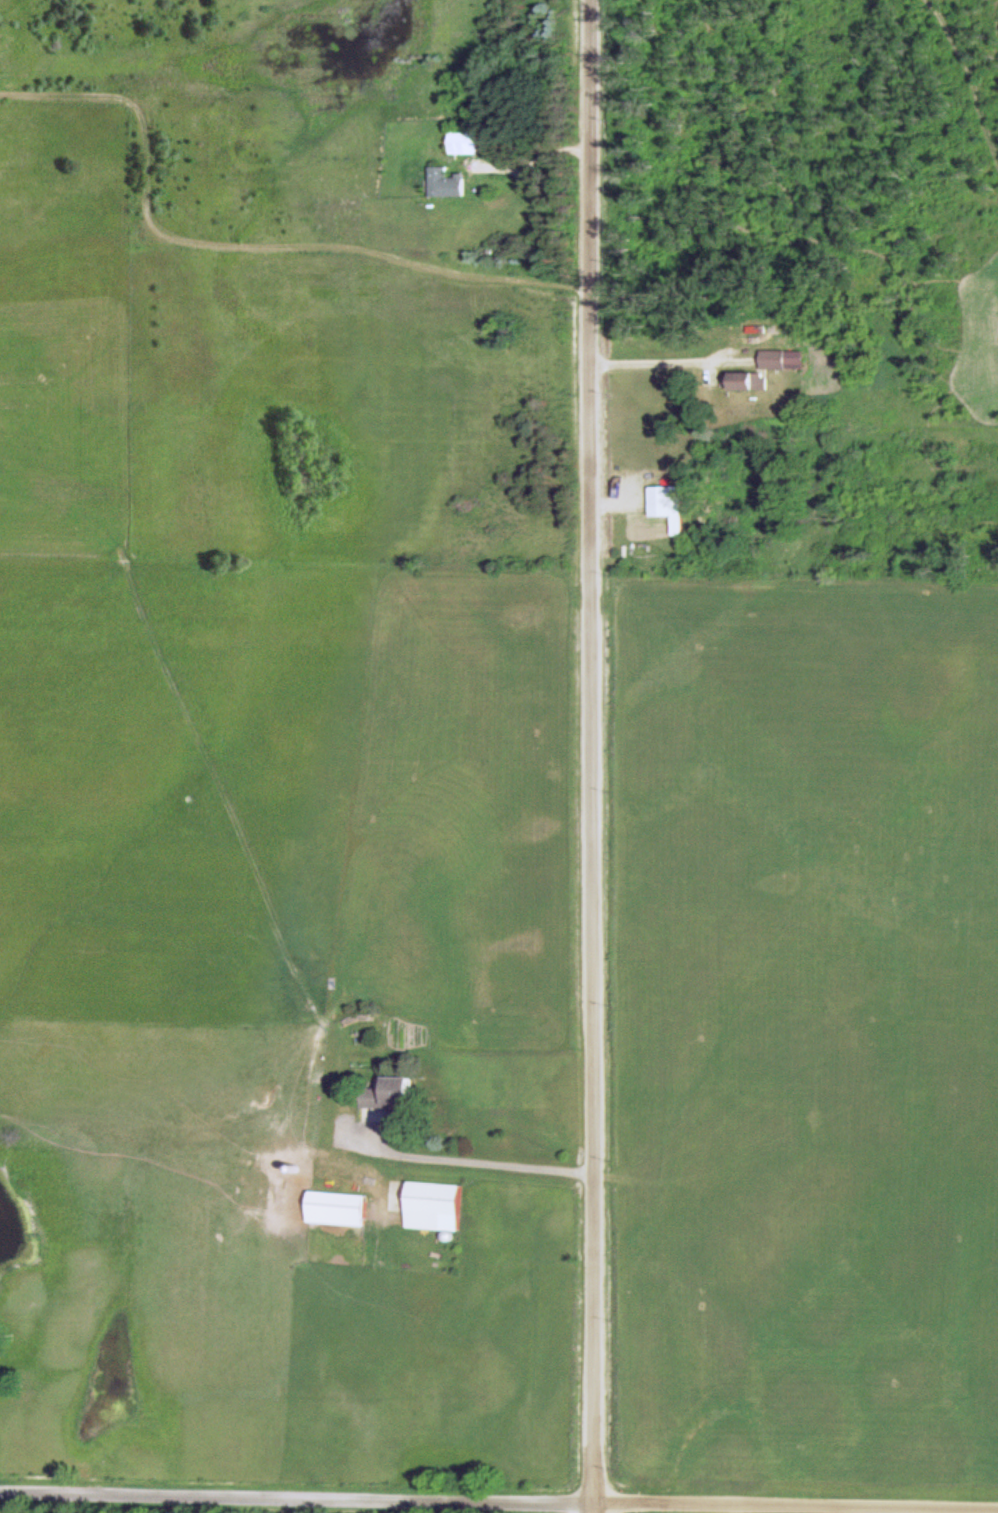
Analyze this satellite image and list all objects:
building: (464, 142)
building: (445, 183)
building: (747, 381)
building: (667, 505)
road: (594, 751)
building: (391, 1092)
building: (431, 1203)
road: (297, 1494)
road: (796, 1504)
road: (593, 1507)

